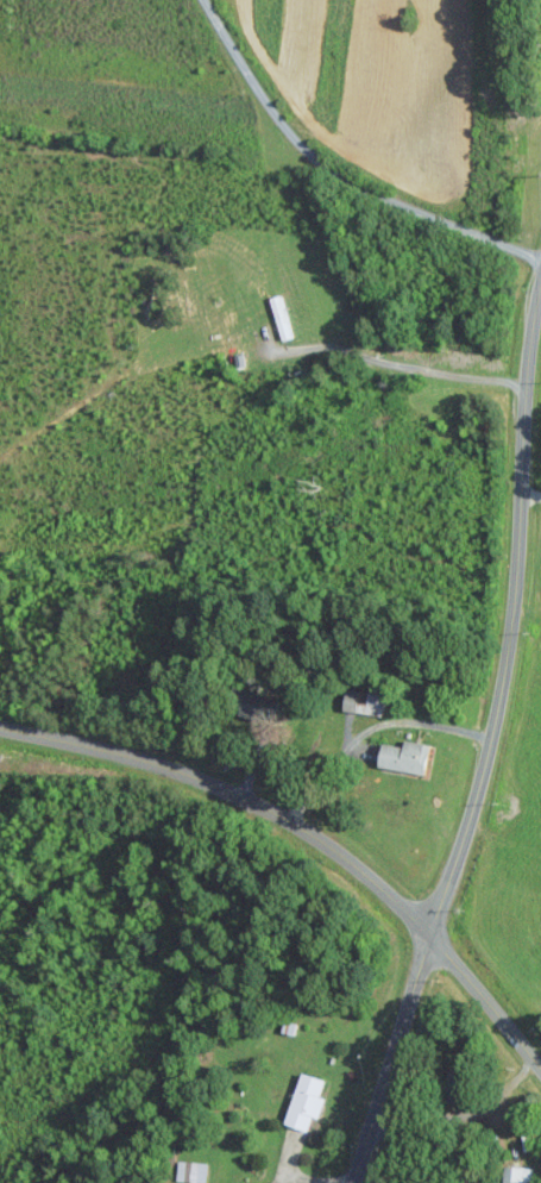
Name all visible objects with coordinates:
road: (338, 177)
road: (397, 361)
road: (528, 495)
building: (361, 700)
road: (364, 731)
road: (480, 734)
building: (407, 756)
road: (313, 834)
building: (307, 1101)
building: (191, 1170)
building: (518, 1175)

